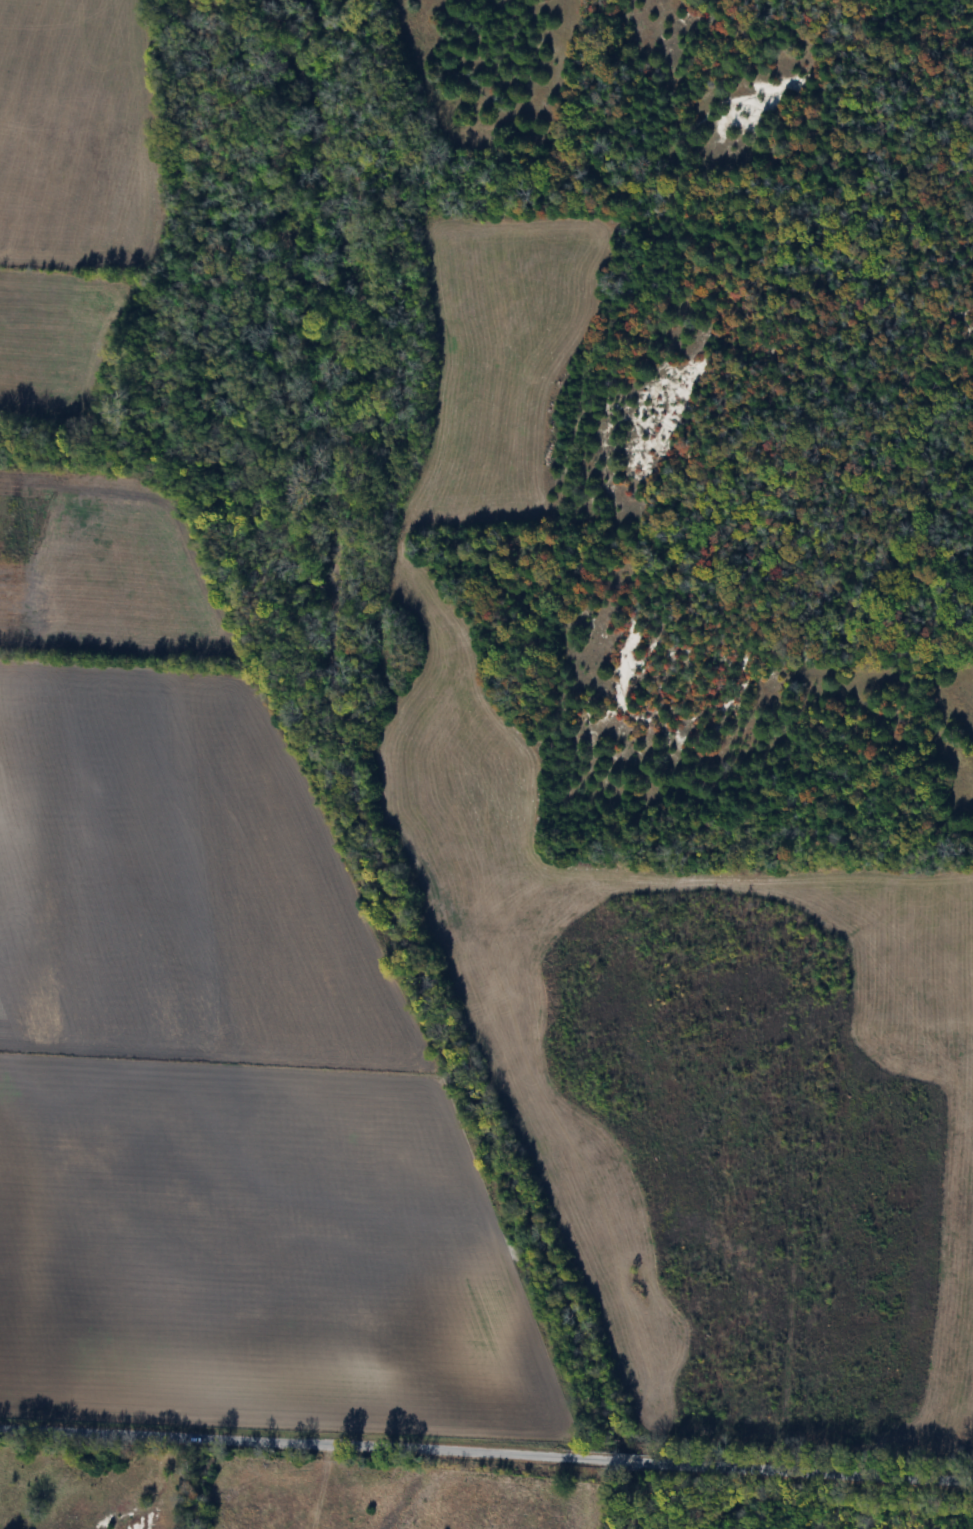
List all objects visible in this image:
road: (486, 1452)

